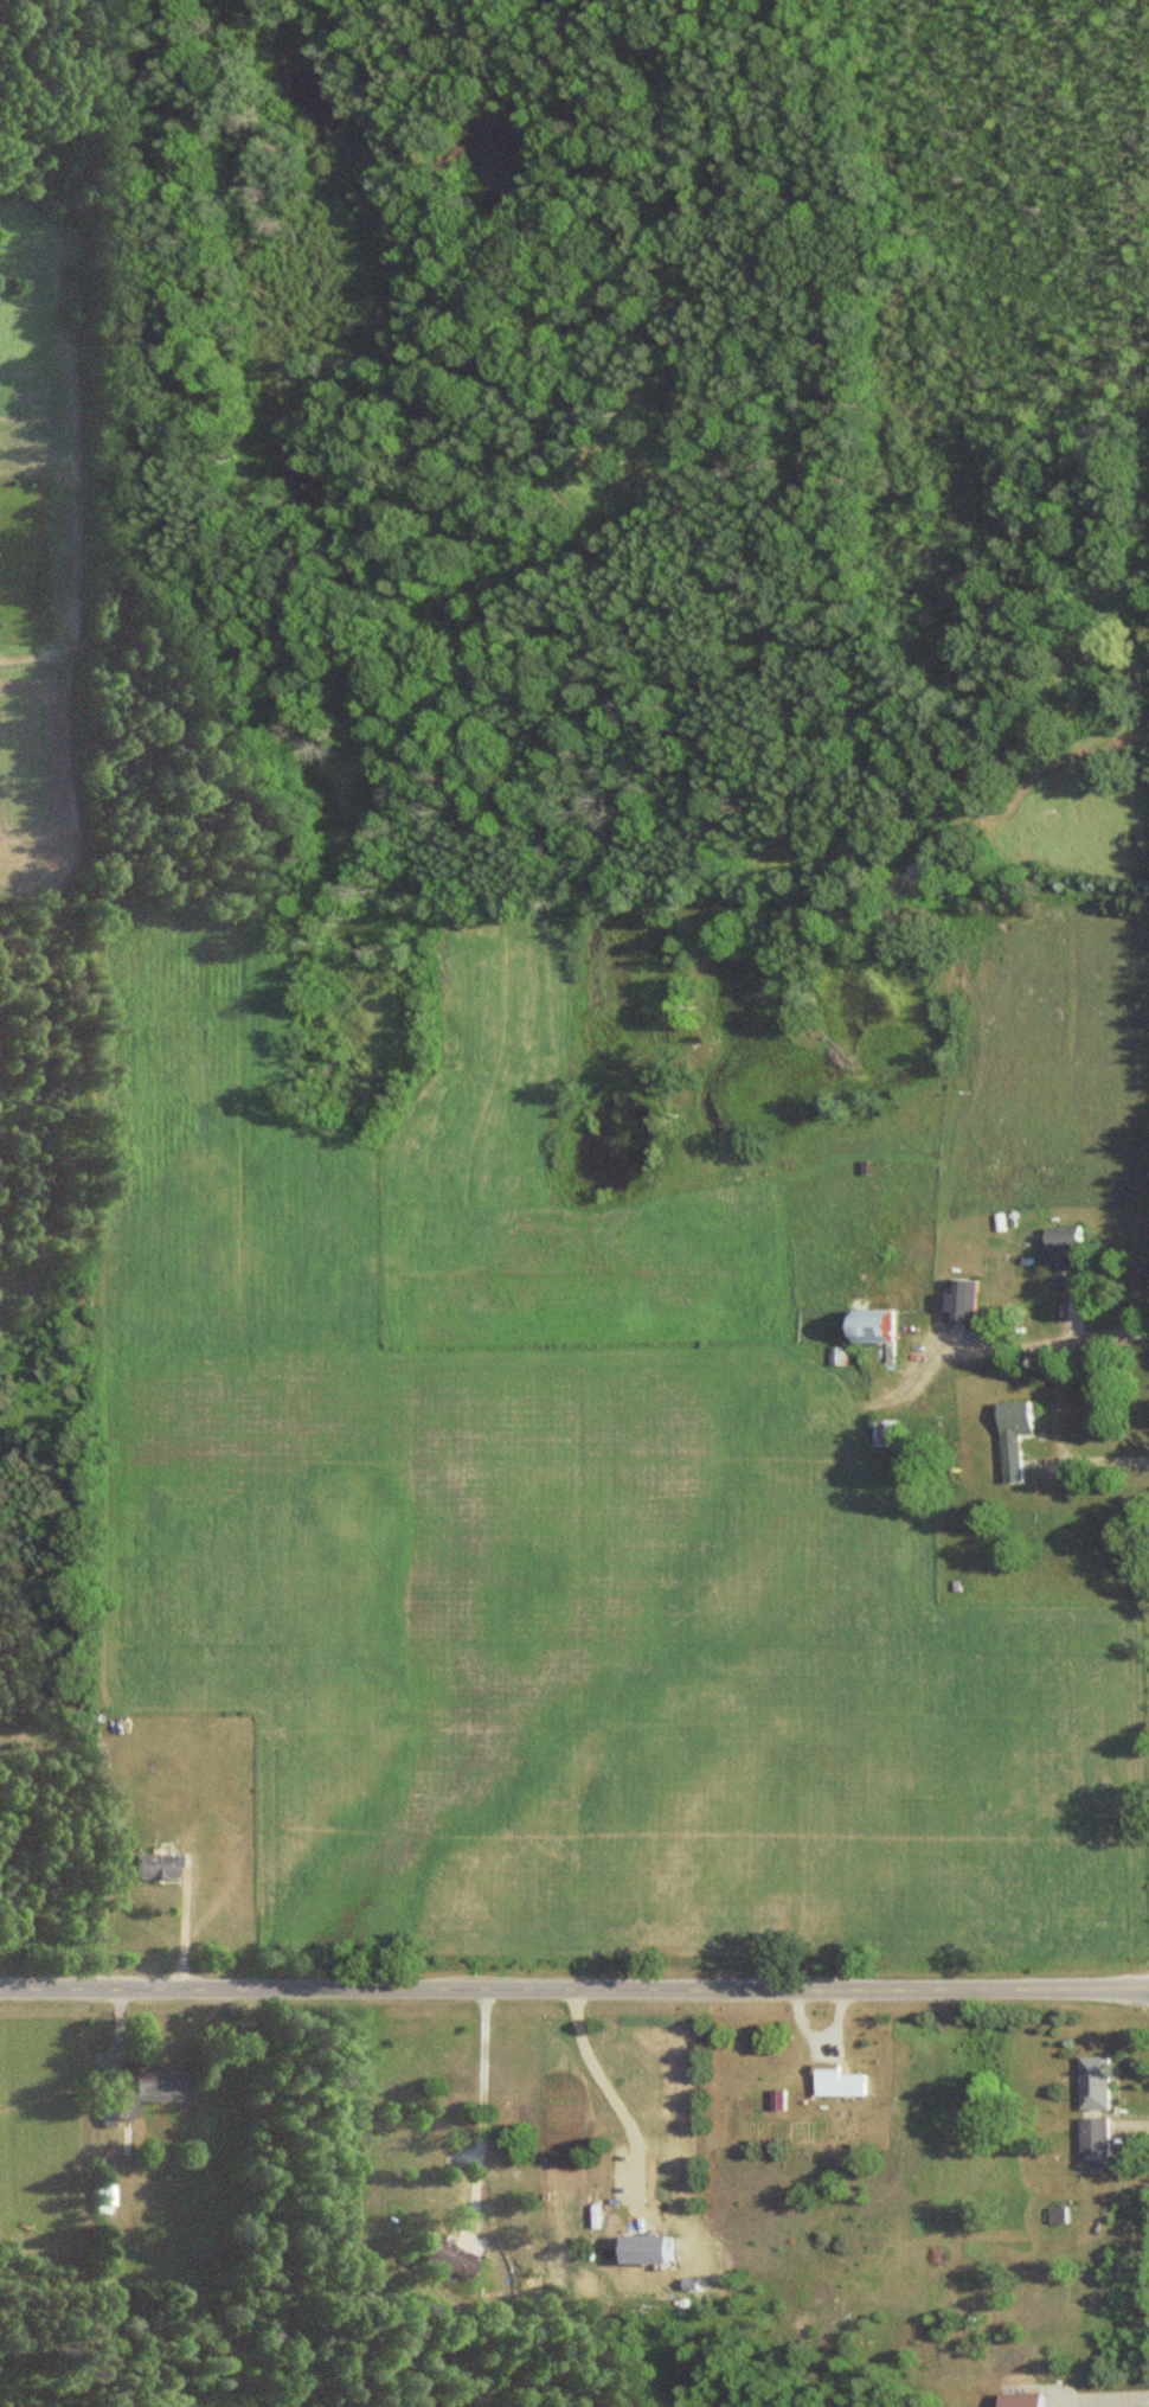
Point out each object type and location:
building: (1084, 1261)
building: (856, 1325)
building: (841, 1356)
road: (1059, 1404)
building: (892, 1433)
building: (1019, 1438)
building: (154, 1865)
road: (184, 1925)
road: (574, 1987)
building: (846, 2081)
building: (1097, 2082)
building: (150, 2089)
road: (623, 2098)
road: (479, 2102)
building: (1097, 2137)
building: (450, 2259)
building: (1027, 2401)

